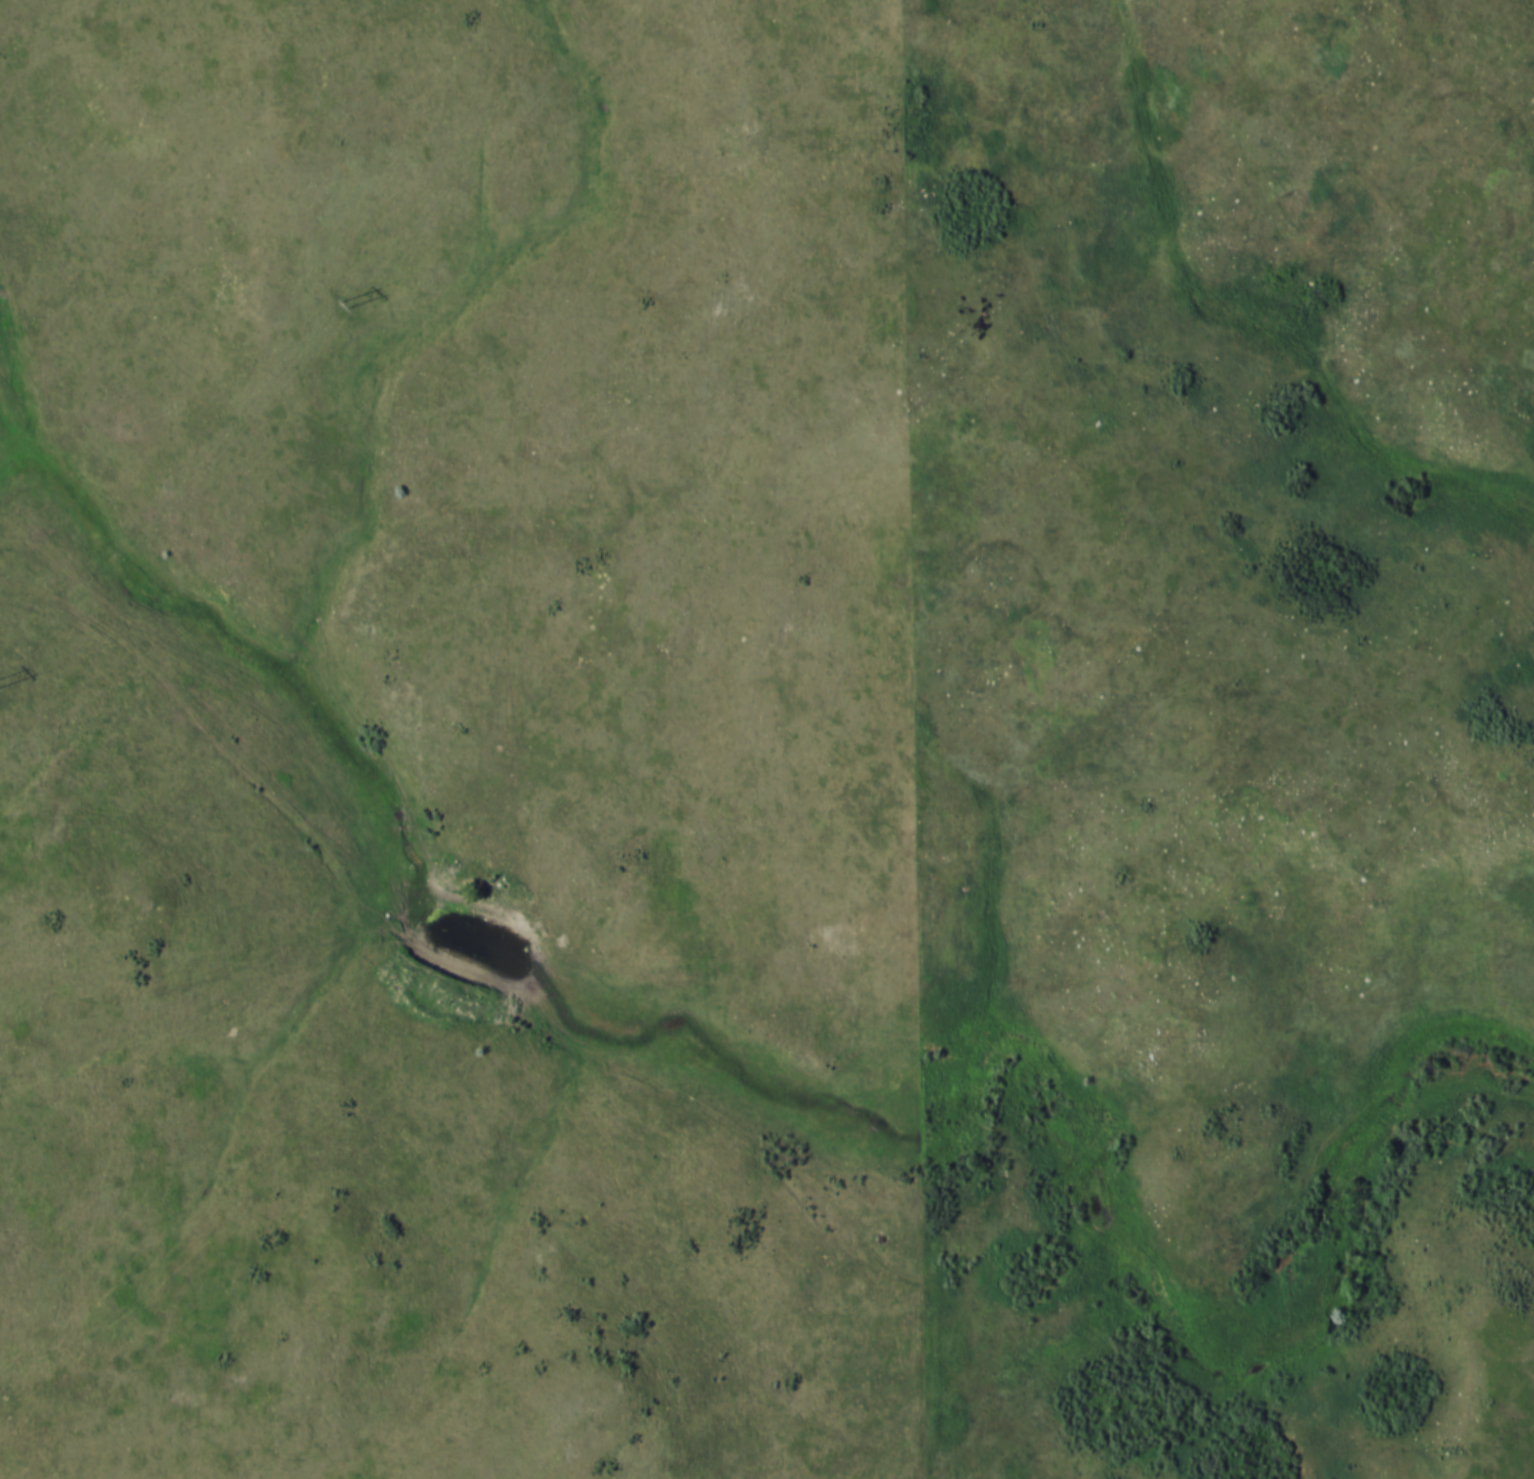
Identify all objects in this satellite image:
power tower: (349, 305)

